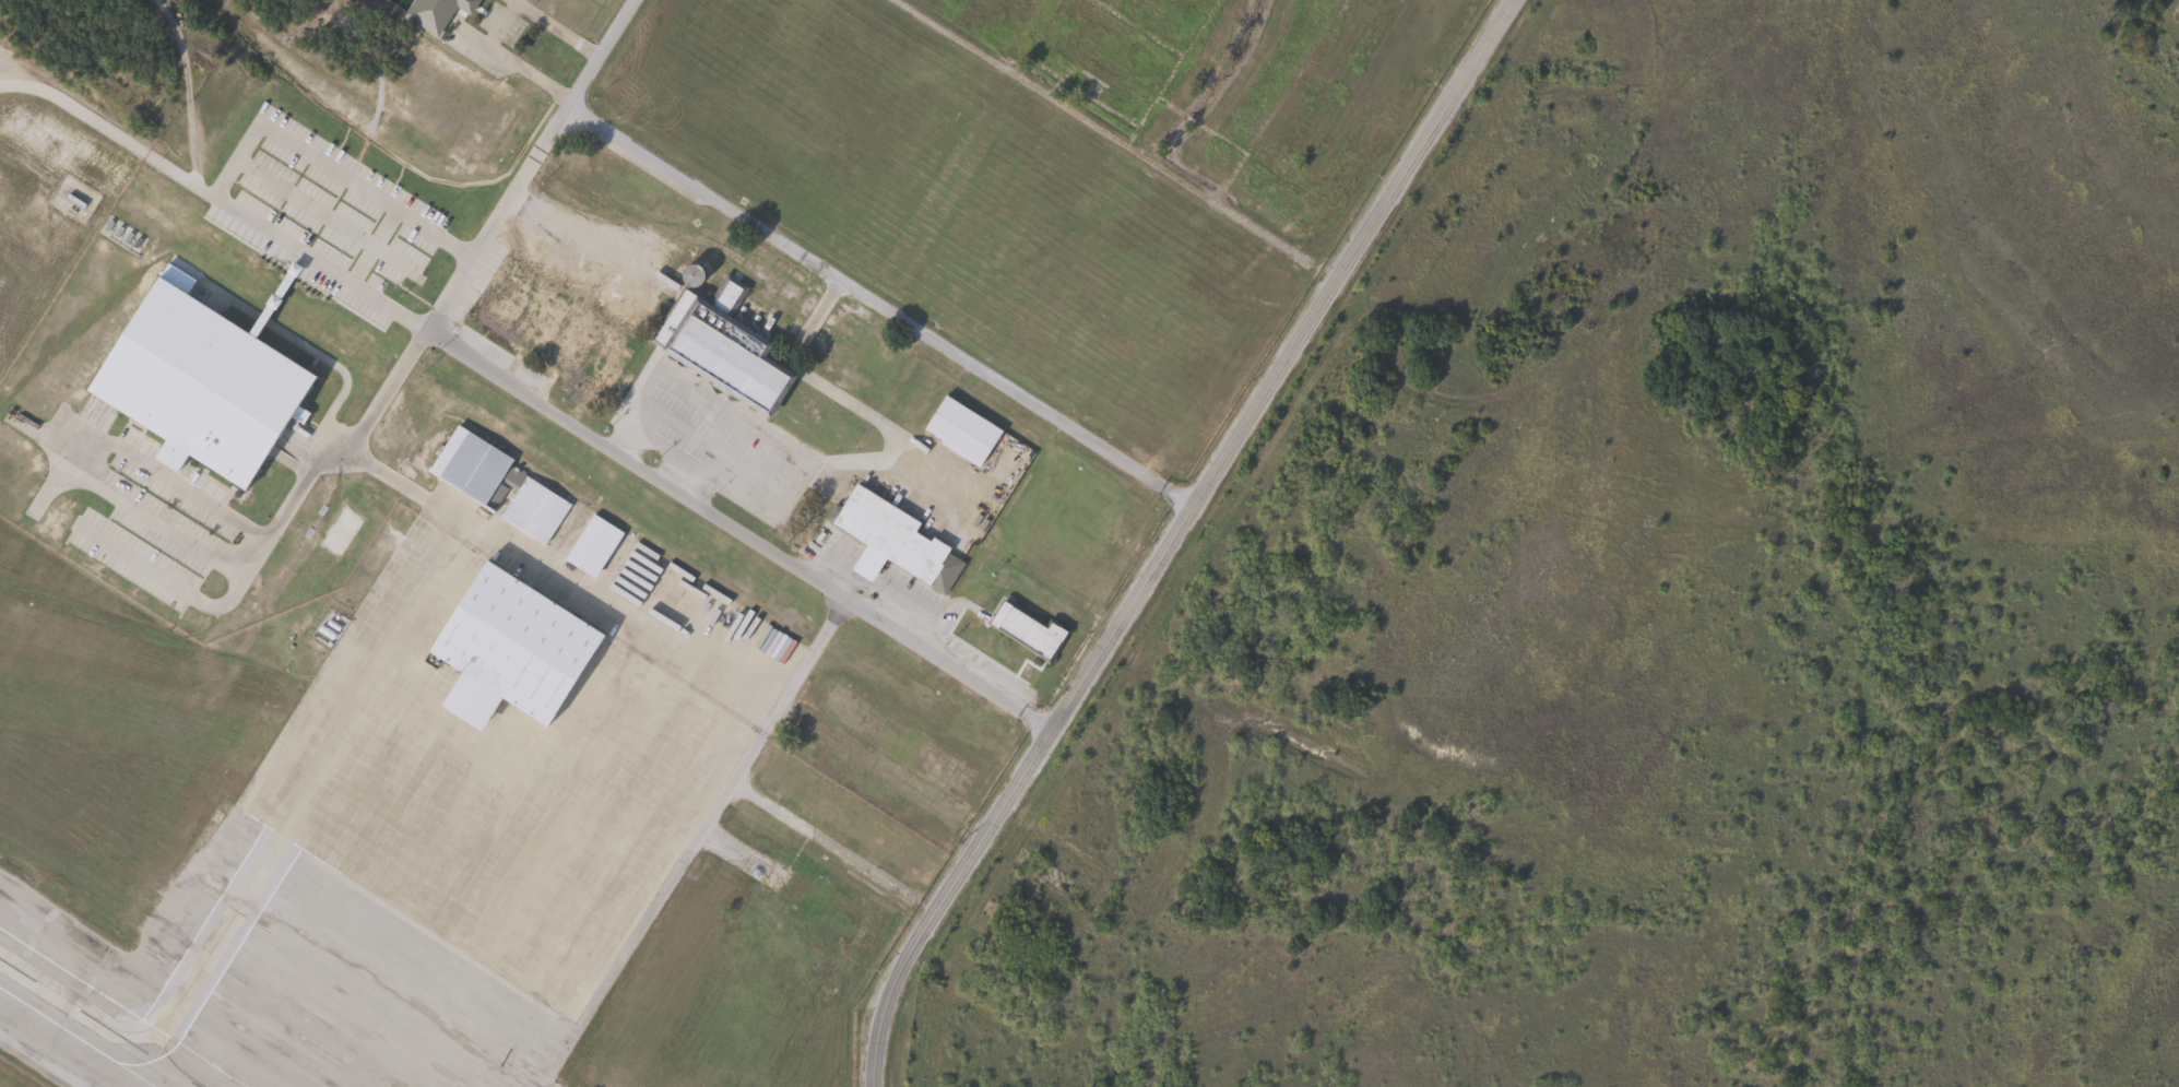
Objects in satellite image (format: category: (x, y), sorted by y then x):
building: (434, 12)
road: (504, 17)
road: (74, 109)
road: (1137, 132)
road: (386, 154)
road: (232, 157)
road: (176, 174)
airport: (50, 187)
road: (370, 243)
road: (879, 307)
building: (553, 330)
building: (723, 351)
road: (323, 355)
building: (194, 383)
road: (576, 418)
building: (958, 432)
road: (59, 437)
road: (704, 442)
building: (495, 486)
road: (271, 528)
road: (1175, 535)
building: (890, 539)
building: (590, 547)
road: (617, 616)
building: (1023, 631)
building: (506, 651)
airport: (411, 847)
airport runway: (115, 1013)

